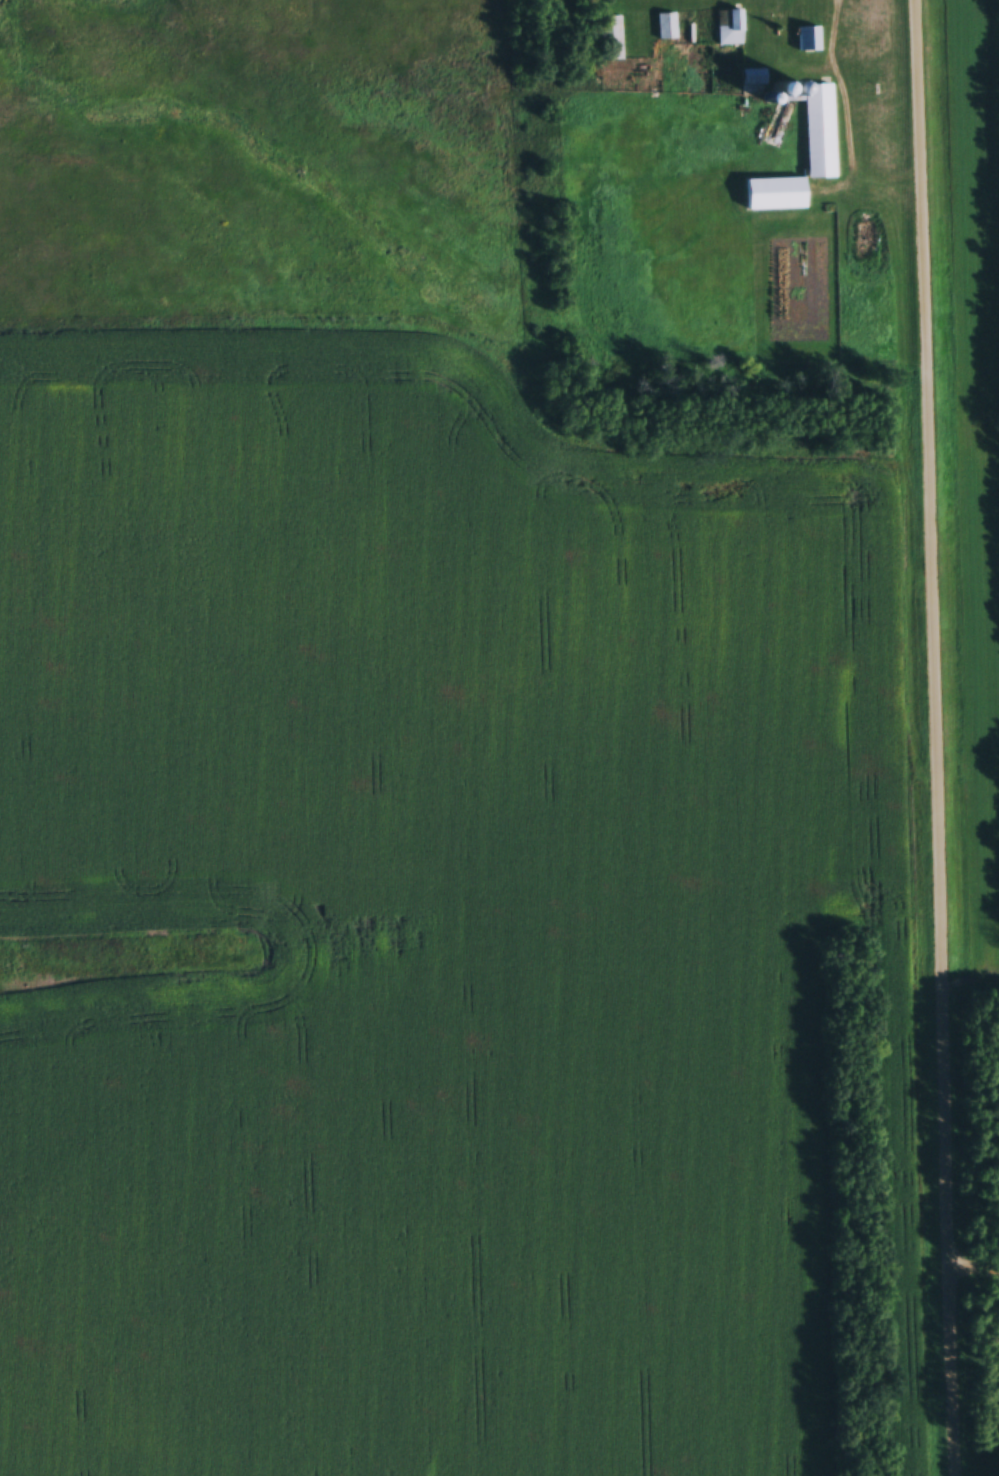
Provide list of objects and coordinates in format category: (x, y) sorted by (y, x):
building: (666, 26)
building: (729, 27)
building: (612, 38)
building: (809, 39)
building: (753, 77)
road: (849, 113)
building: (815, 124)
building: (775, 194)
road: (938, 737)
road: (976, 1268)

